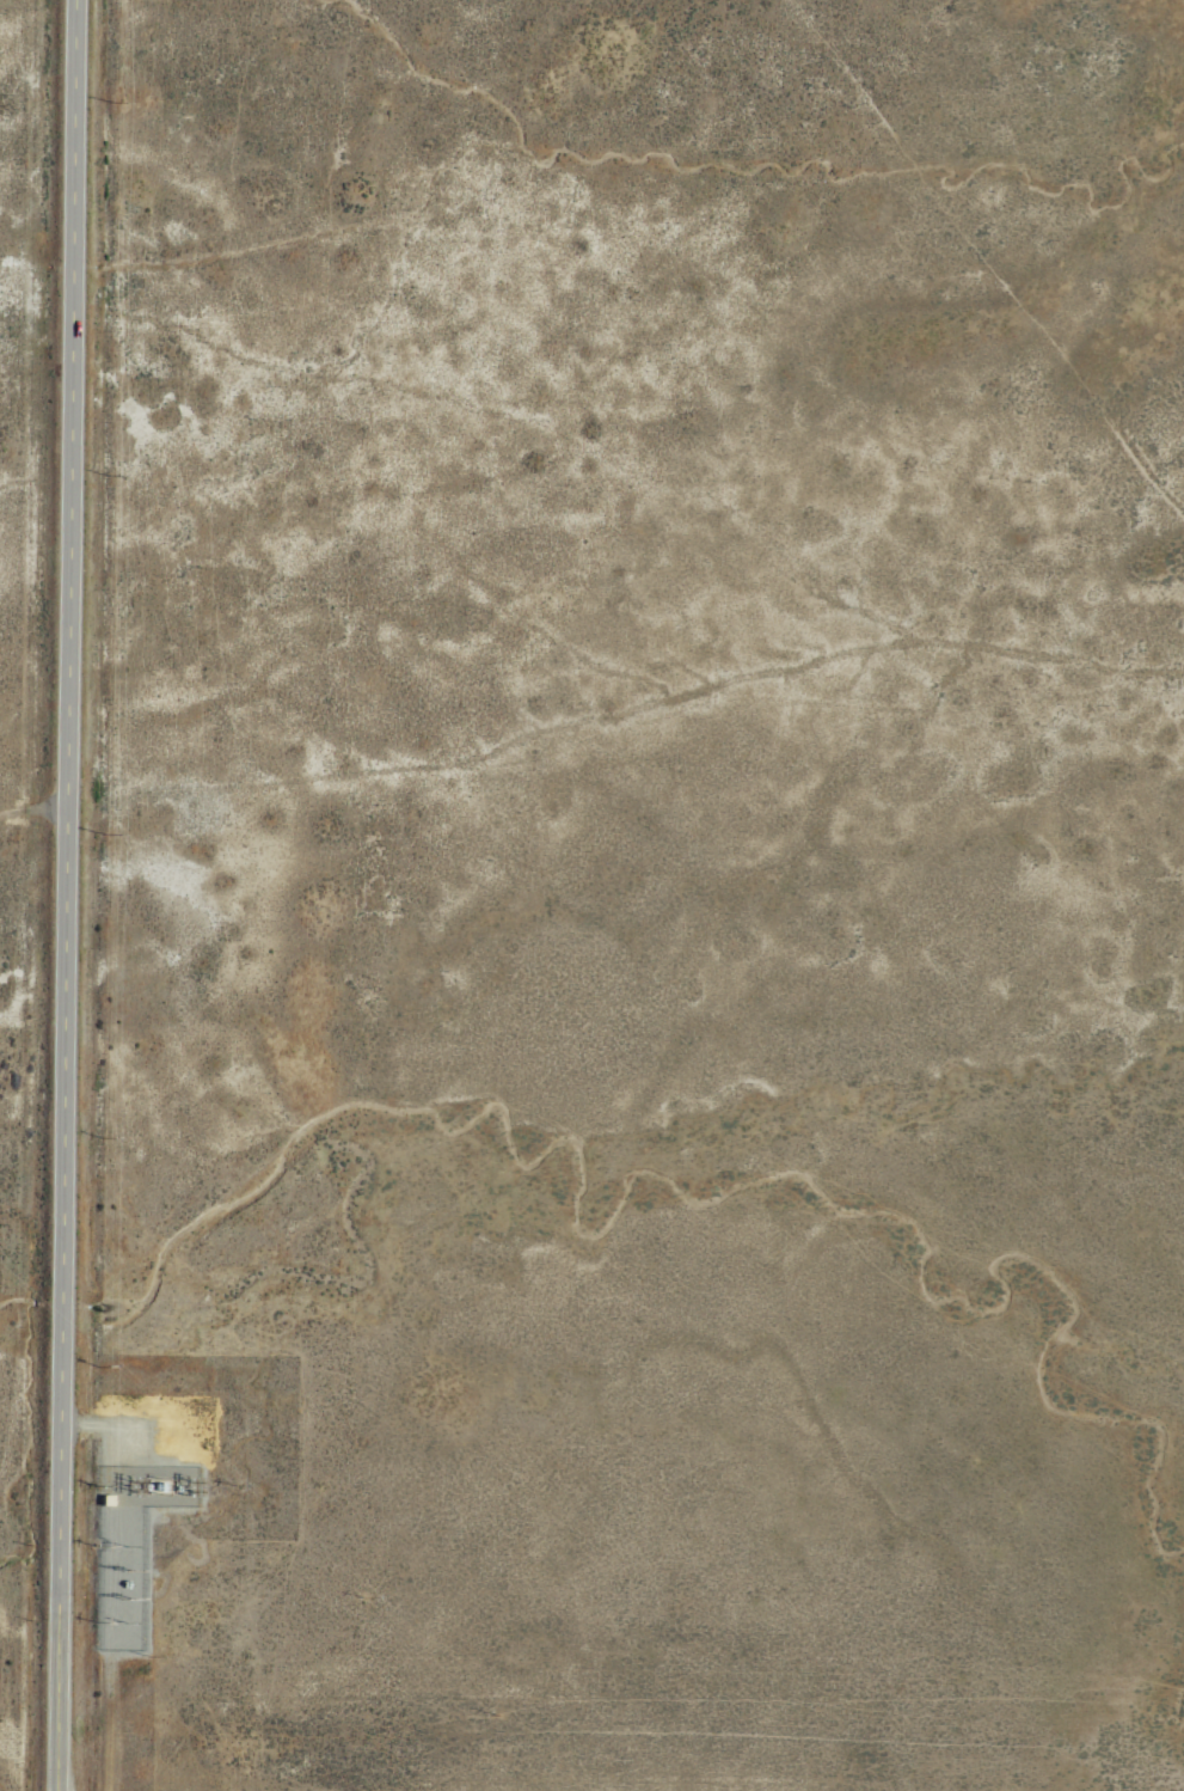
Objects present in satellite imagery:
road: (61, 894)
crop: (591, 895)

